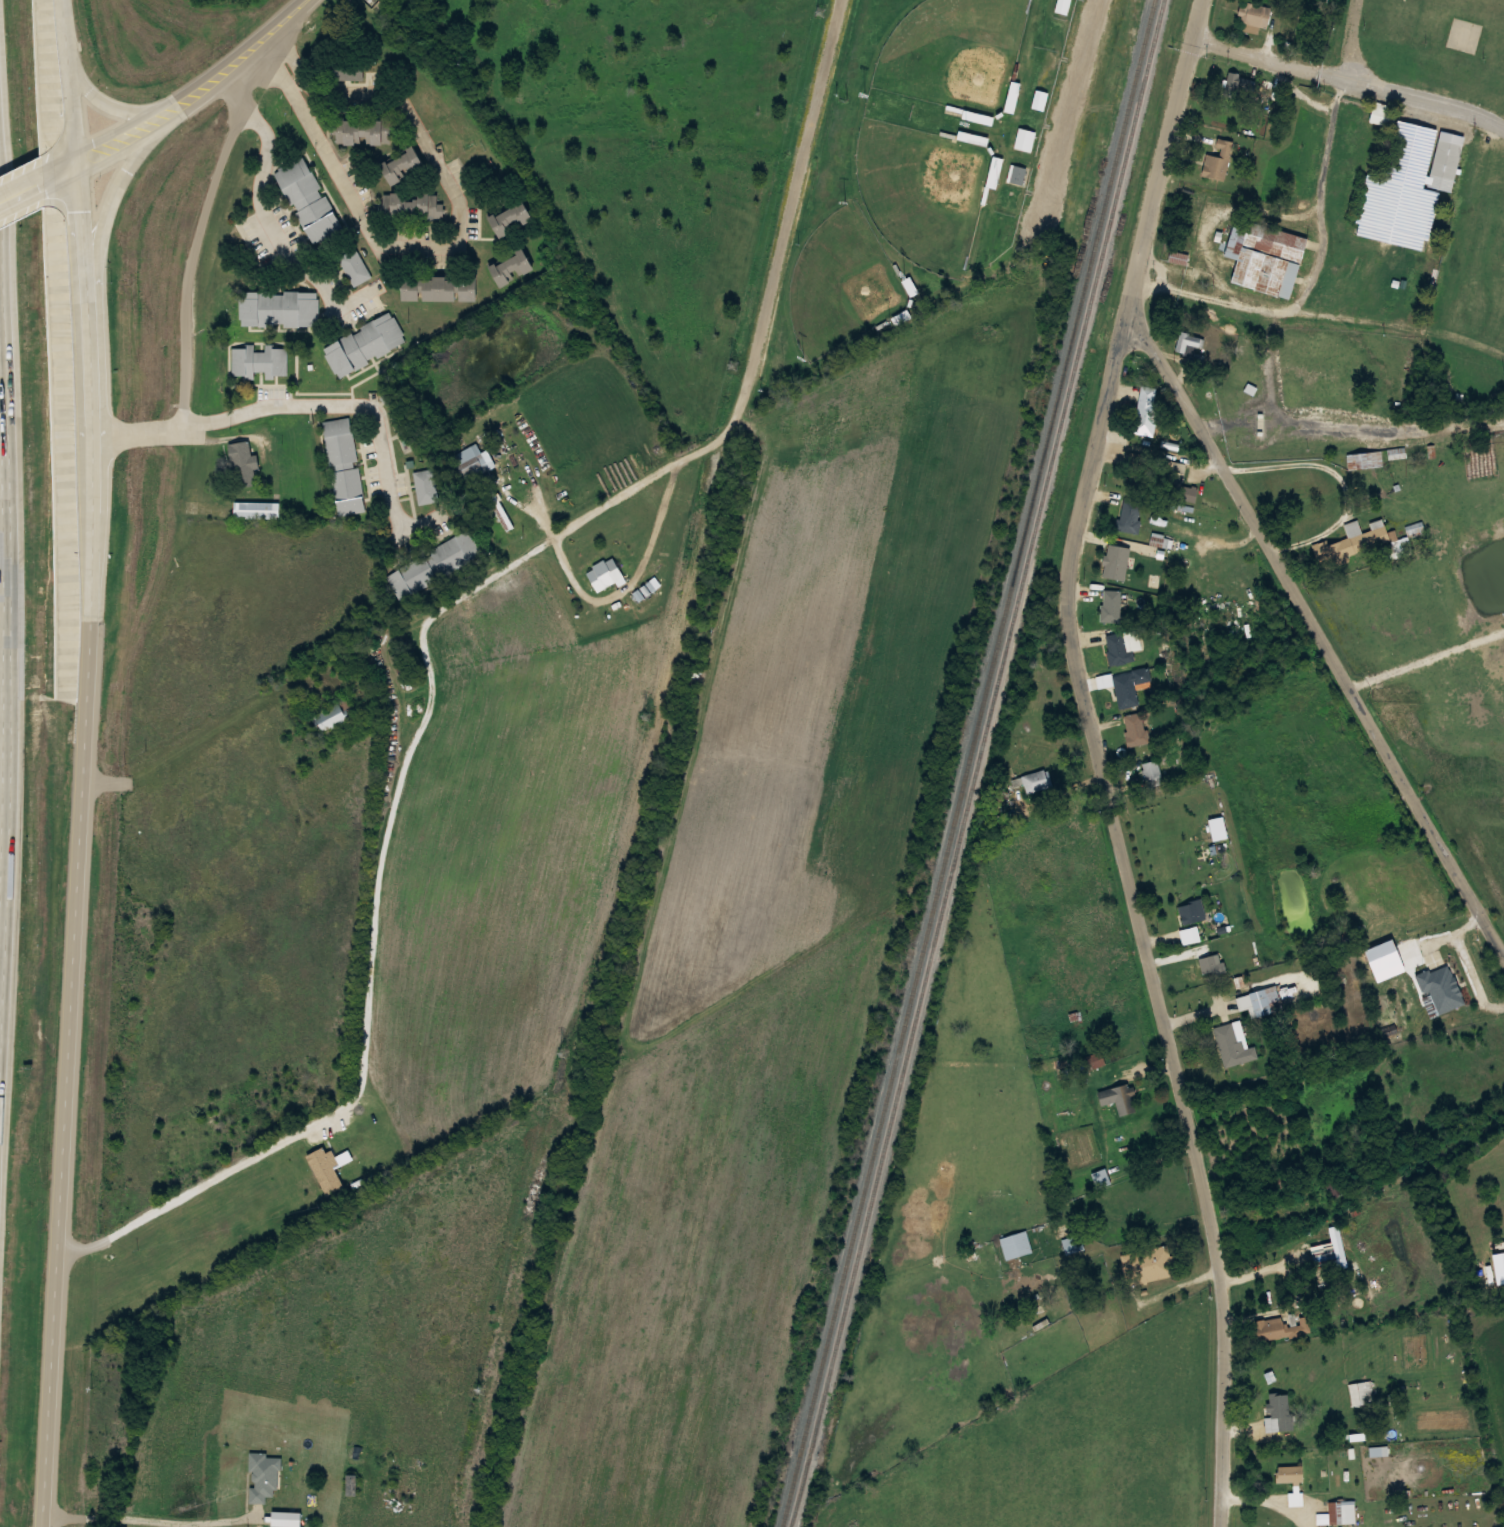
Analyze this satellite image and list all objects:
power tower: (825, 3)
building: (1062, 6)
building: (1252, 17)
park: (956, 51)
road: (1351, 79)
road: (197, 82)
building: (1238, 85)
building: (1012, 97)
road: (205, 98)
building: (1039, 100)
road: (102, 101)
road: (1075, 110)
building: (1380, 113)
building: (365, 132)
building: (970, 138)
building: (1025, 139)
road: (61, 161)
building: (1217, 161)
park: (917, 163)
road: (1327, 163)
road: (258, 164)
building: (405, 165)
building: (993, 172)
building: (1017, 174)
building: (1414, 178)
road: (21, 181)
road: (63, 181)
road: (340, 189)
park: (924, 190)
road: (793, 198)
building: (308, 200)
road: (22, 201)
building: (413, 207)
building: (512, 219)
road: (102, 237)
building: (1262, 257)
building: (513, 267)
building: (353, 268)
park: (843, 284)
building: (442, 288)
road: (1211, 295)
building: (279, 309)
building: (1189, 342)
building: (364, 346)
building: (258, 361)
power tower: (729, 364)
building: (1147, 412)
road: (228, 416)
building: (1498, 435)
building: (338, 444)
building: (1398, 453)
building: (1367, 459)
building: (243, 465)
building: (468, 466)
building: (1176, 481)
building: (425, 487)
building: (347, 491)
building: (257, 510)
building: (1129, 515)
building: (500, 516)
building: (1355, 542)
building: (1403, 546)
building: (1119, 562)
building: (434, 566)
building: (604, 574)
road: (6, 605)
building: (1111, 605)
road: (1318, 634)
building: (1118, 649)
building: (1127, 690)
crop: (1431, 695)
power tower: (645, 709)
building: (333, 717)
building: (1135, 729)
road: (186, 735)
road: (1104, 760)
road: (82, 763)
railway: (969, 763)
railway: (978, 763)
building: (1152, 771)
building: (1038, 780)
crop: (1316, 819)
building: (1193, 911)
crop: (769, 927)
building: (1213, 963)
building: (1442, 987)
building: (1267, 1000)
building: (1234, 1044)
power tower: (562, 1054)
building: (1118, 1097)
building: (1100, 1177)
building: (1333, 1186)
building: (1017, 1244)
building: (1149, 1263)
building: (1497, 1281)
building: (1279, 1328)
power tower: (482, 1390)
building: (1362, 1392)
building: (1280, 1408)
building: (1289, 1473)
building: (261, 1478)
building: (350, 1485)
building: (1296, 1498)
building: (1342, 1511)

